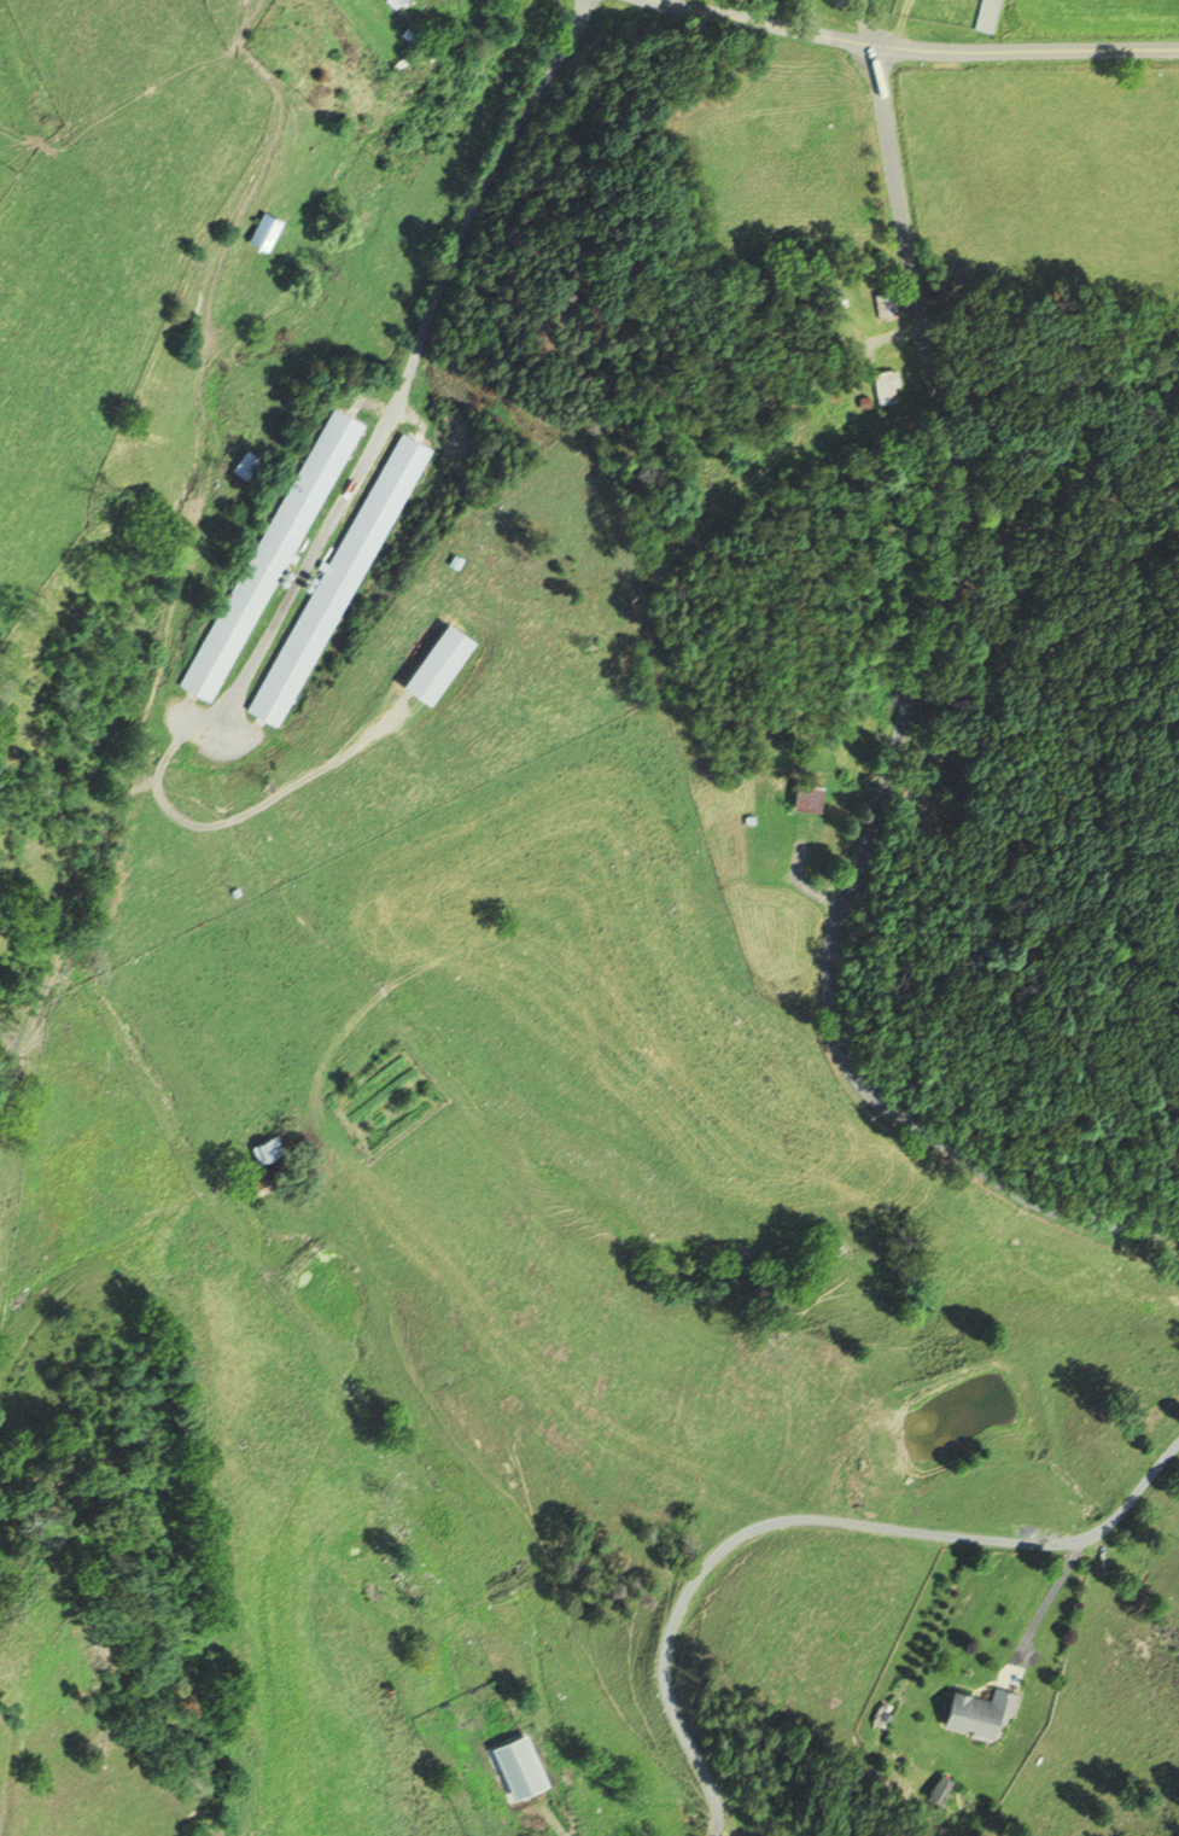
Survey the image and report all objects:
building: (402, 2)
building: (985, 16)
road: (859, 22)
road: (754, 27)
road: (1028, 51)
road: (274, 147)
building: (267, 231)
building: (886, 305)
road: (405, 371)
building: (881, 386)
building: (247, 462)
building: (272, 553)
building: (338, 578)
building: (443, 660)
road: (898, 742)
building: (804, 798)
road: (802, 900)
building: (265, 1148)
building: (258, 1182)
road: (812, 1520)
building: (975, 1712)
building: (935, 1788)

